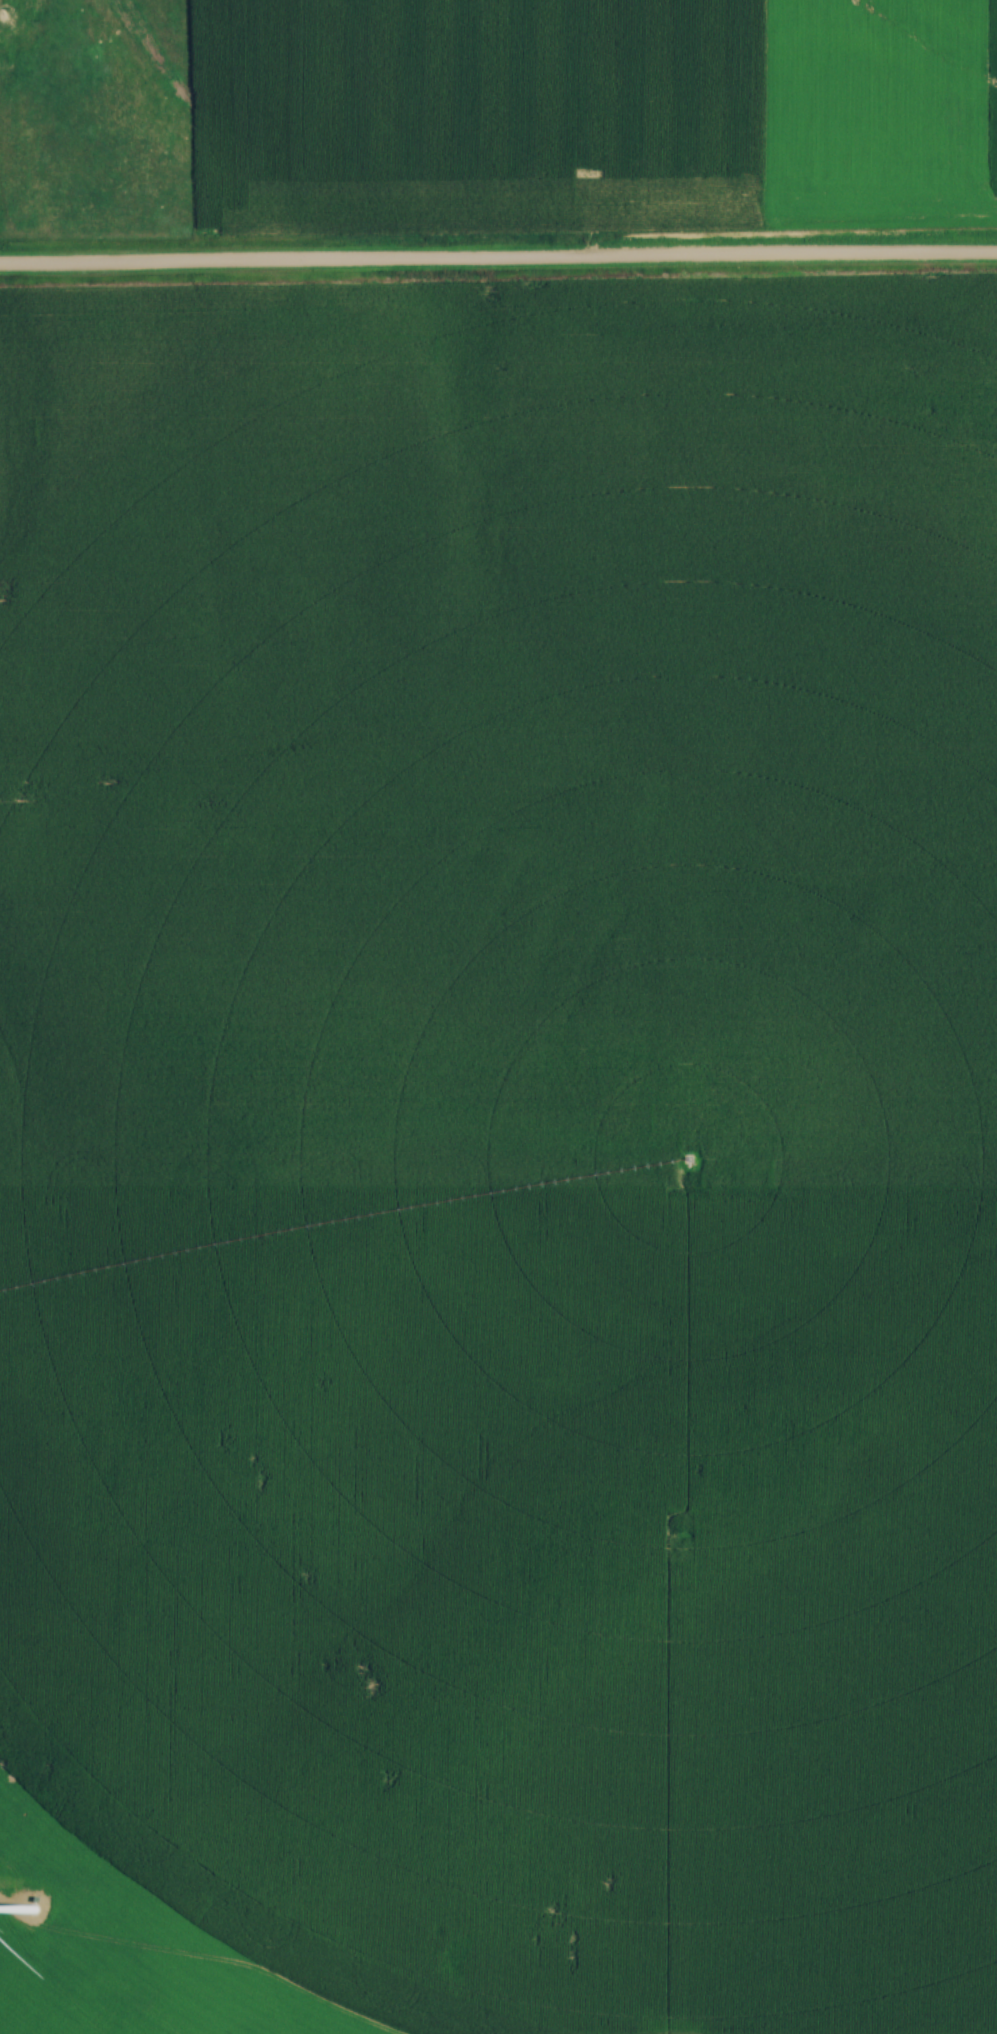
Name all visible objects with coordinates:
building: (102, 6)
road: (498, 263)
wind turbine: (34, 1908)

